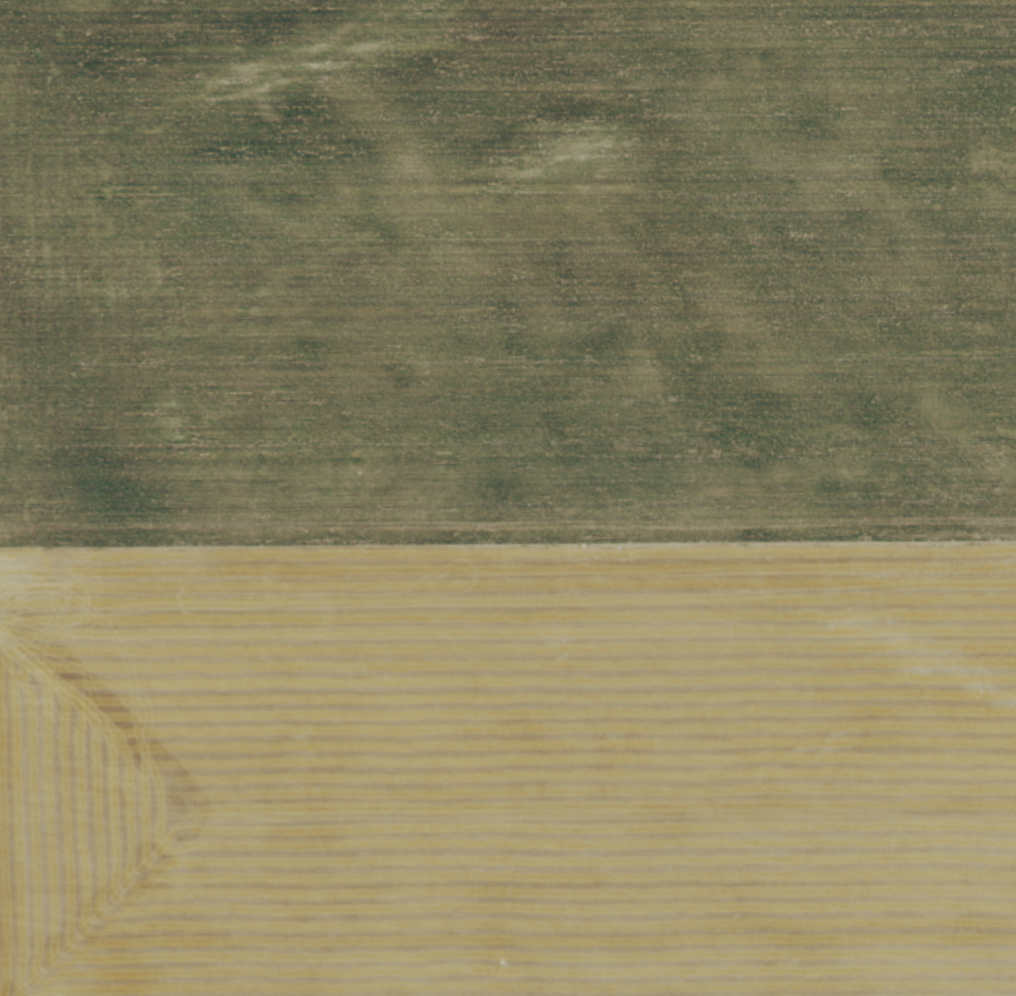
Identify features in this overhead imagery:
crop: (508, 498)

